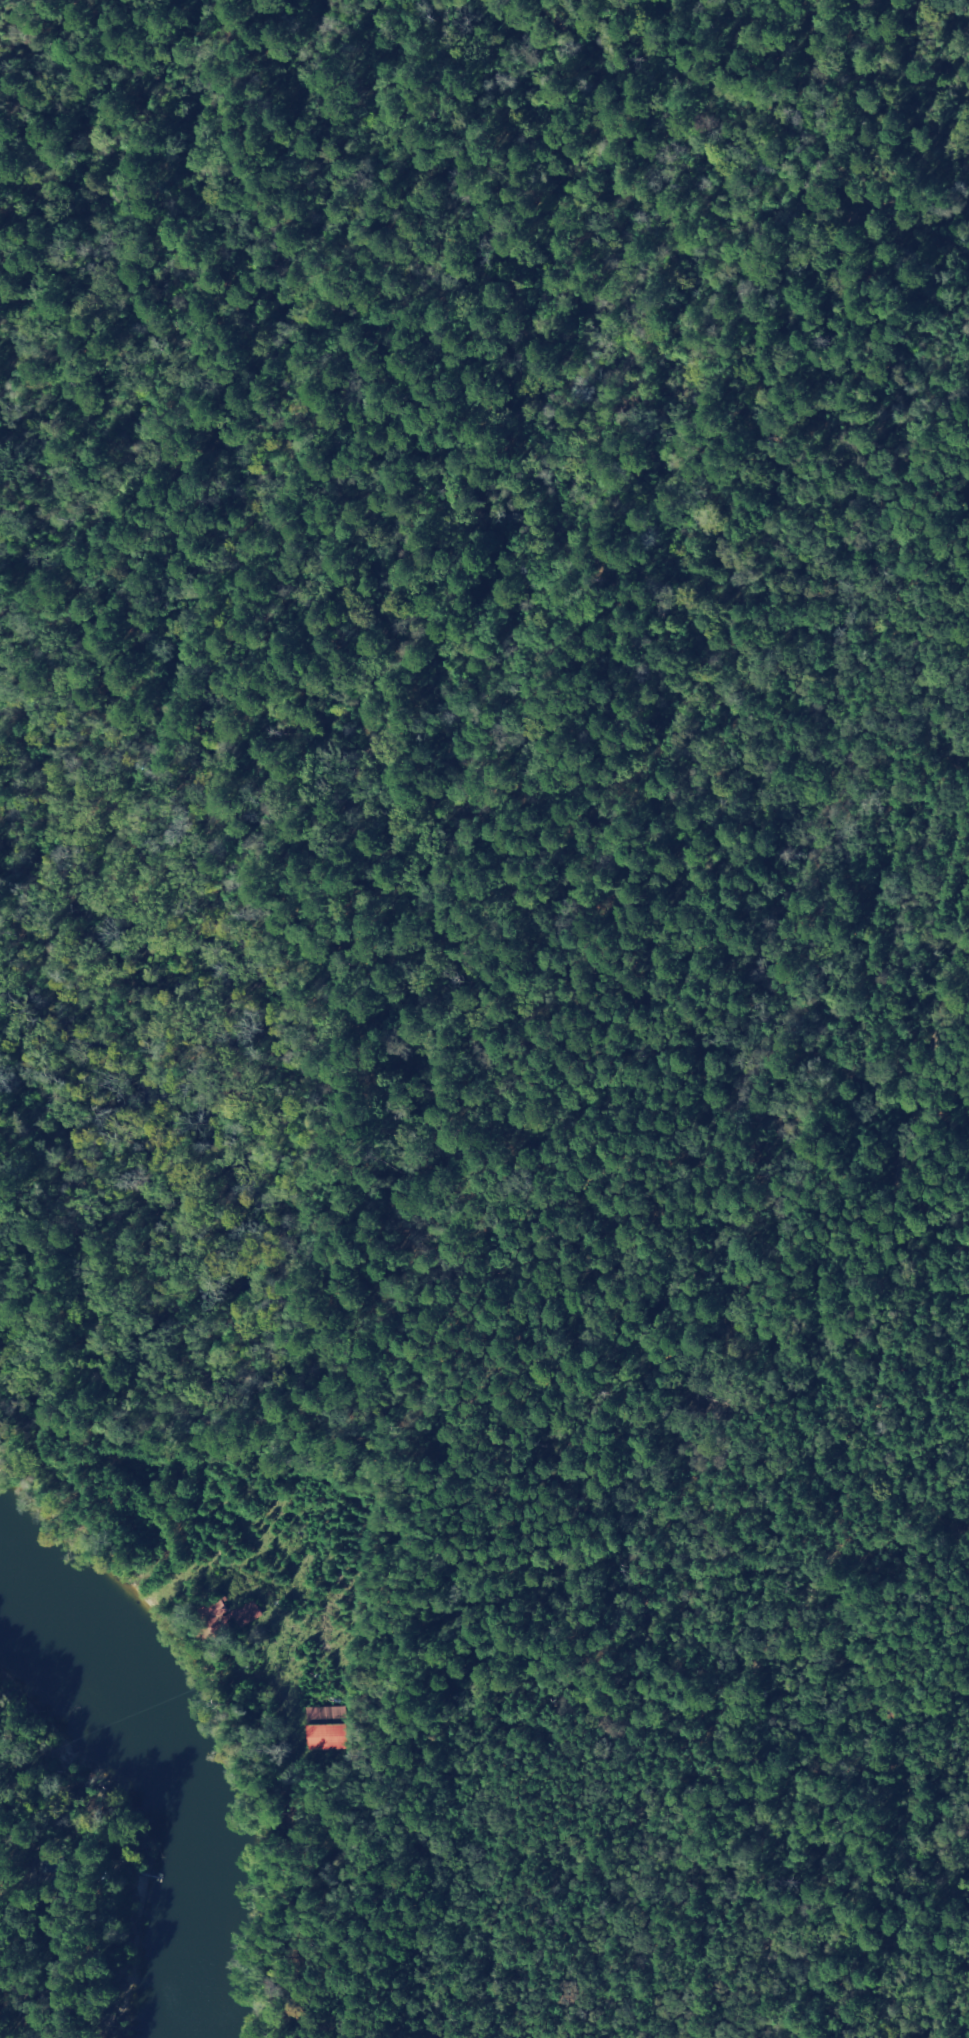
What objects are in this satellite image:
road: (854, 170)
road: (847, 1512)
building: (323, 1737)
road: (42, 1758)
river: (175, 1778)
road: (449, 1783)

